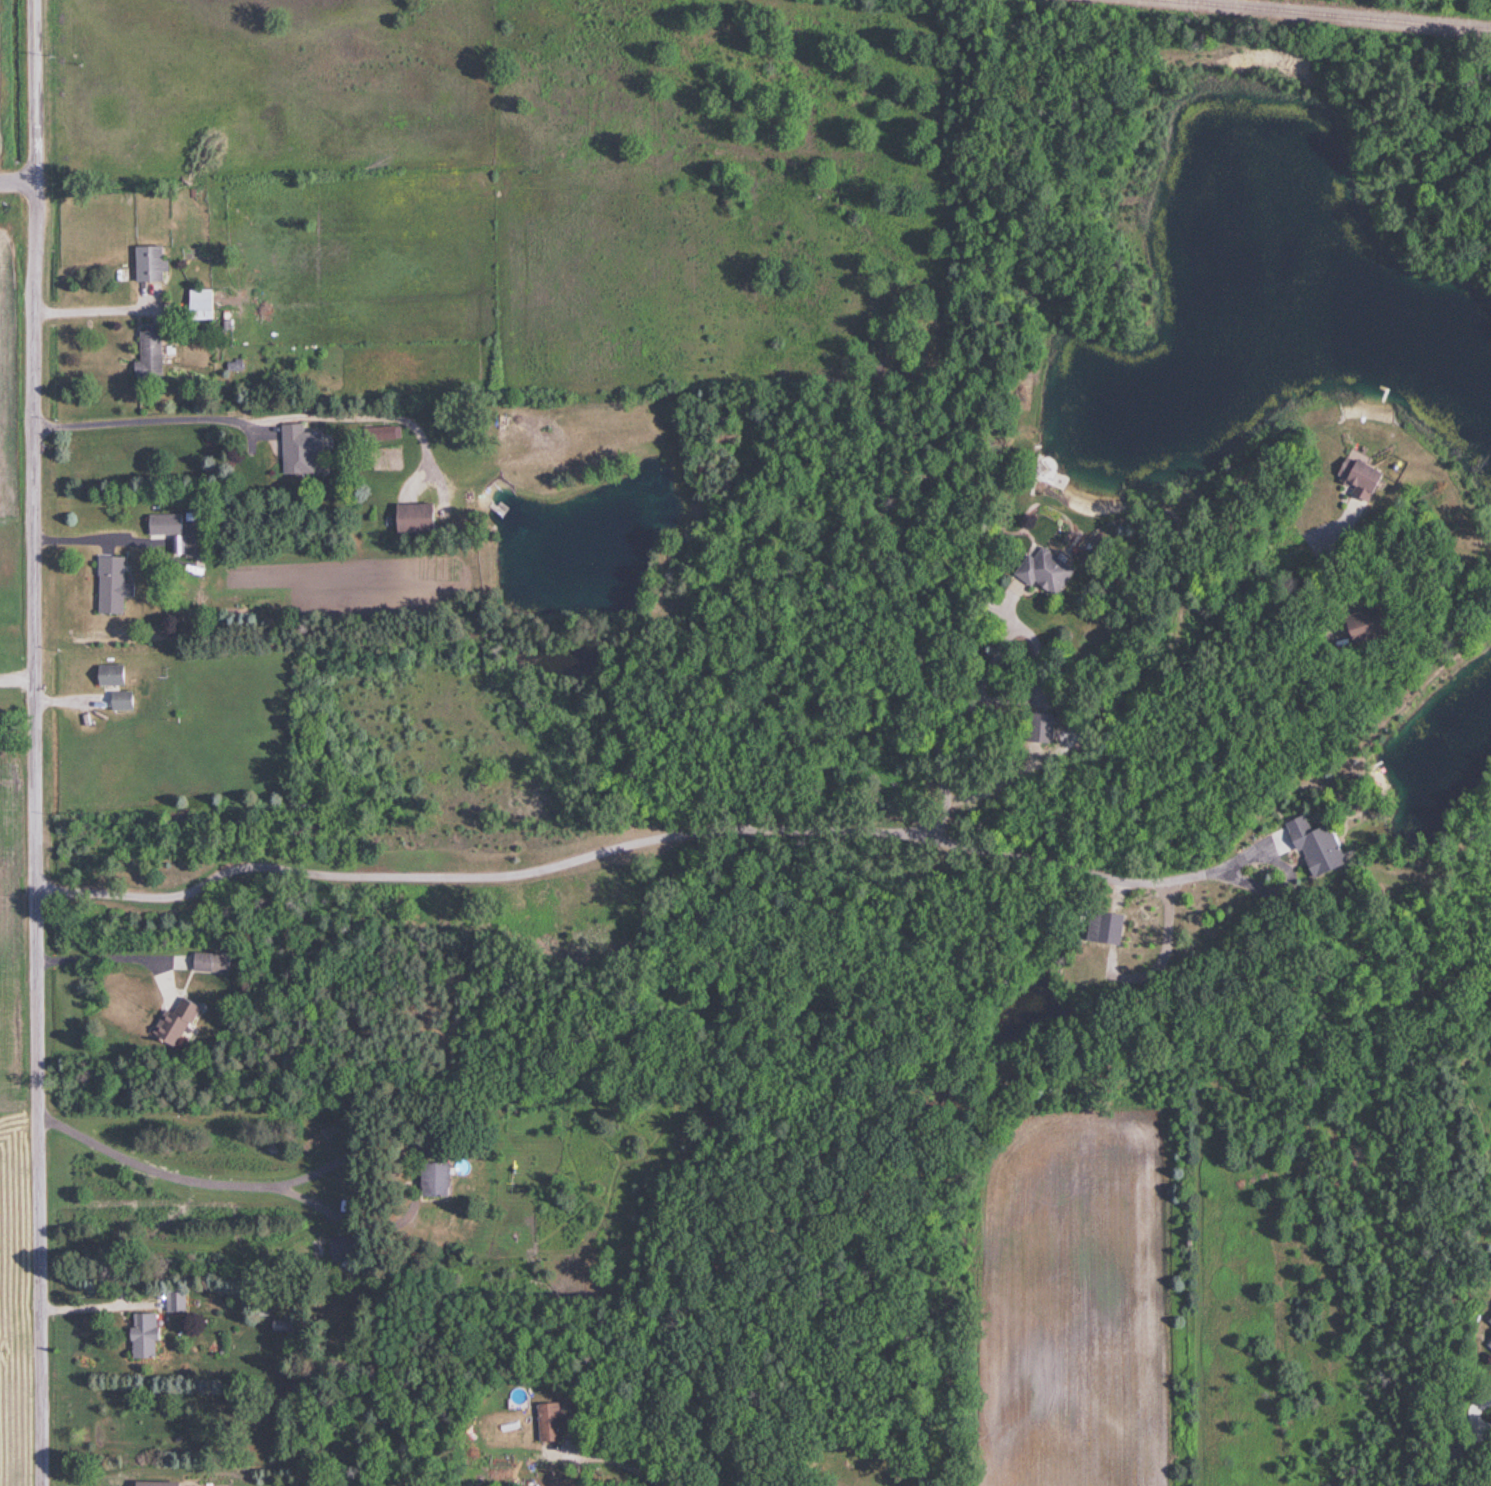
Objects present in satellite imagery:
railway: (1329, 15)
road: (17, 185)
building: (146, 264)
road: (92, 304)
building: (197, 304)
building: (145, 353)
road: (150, 416)
building: (295, 448)
building: (1353, 477)
building: (408, 518)
building: (164, 529)
road: (91, 540)
building: (1039, 571)
building: (107, 585)
building: (1353, 624)
road: (19, 678)
building: (112, 686)
road: (959, 709)
building: (1035, 727)
road: (38, 742)
building: (1311, 845)
road: (478, 873)
road: (1097, 876)
building: (1098, 927)
road: (112, 953)
building: (208, 962)
road: (159, 973)
building: (169, 1024)
road: (190, 1179)
building: (427, 1180)
road: (308, 1198)
building: (172, 1299)
building: (1488, 1320)
building: (139, 1335)
building: (1488, 1344)
road: (1475, 1413)
building: (544, 1422)
road: (618, 1474)

